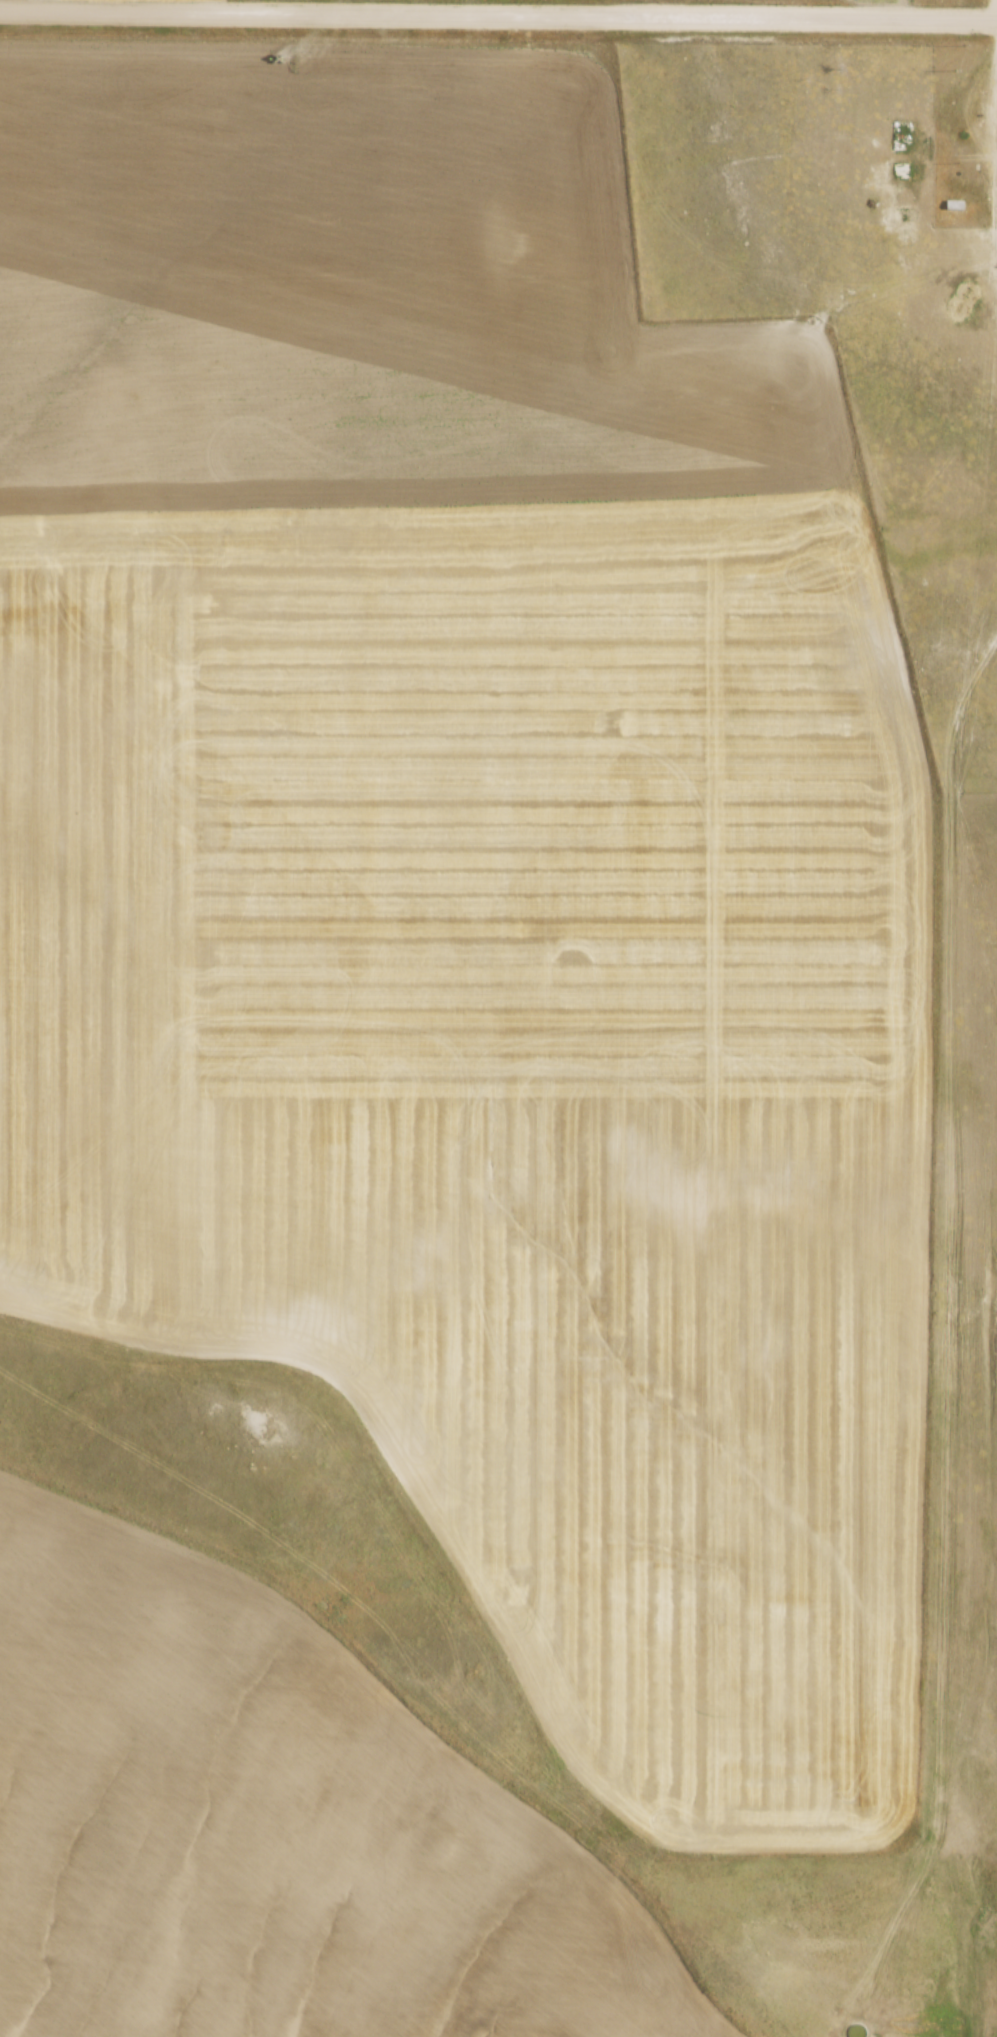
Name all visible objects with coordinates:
road: (498, 14)
building: (900, 132)
building: (901, 169)
building: (955, 202)

